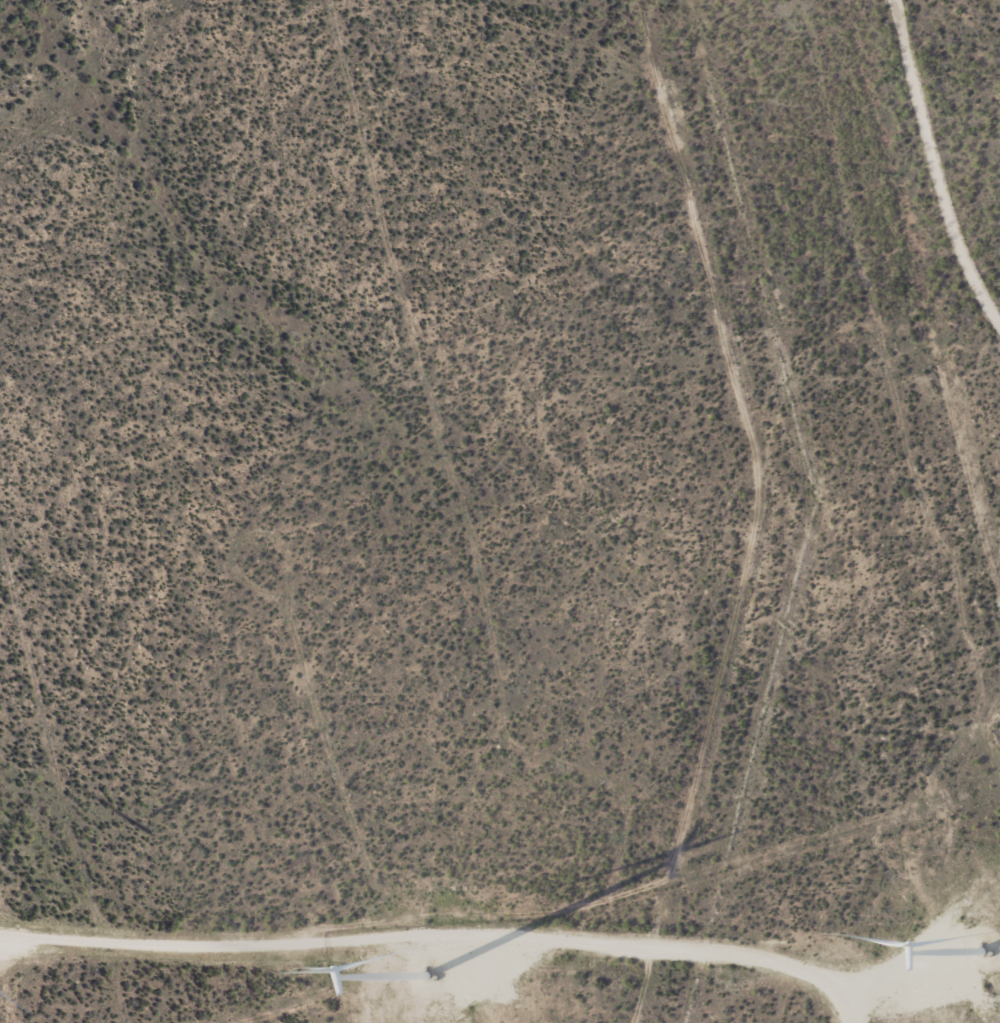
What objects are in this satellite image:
road: (946, 147)
wind turbine: (970, 953)
wind turbine: (440, 966)

